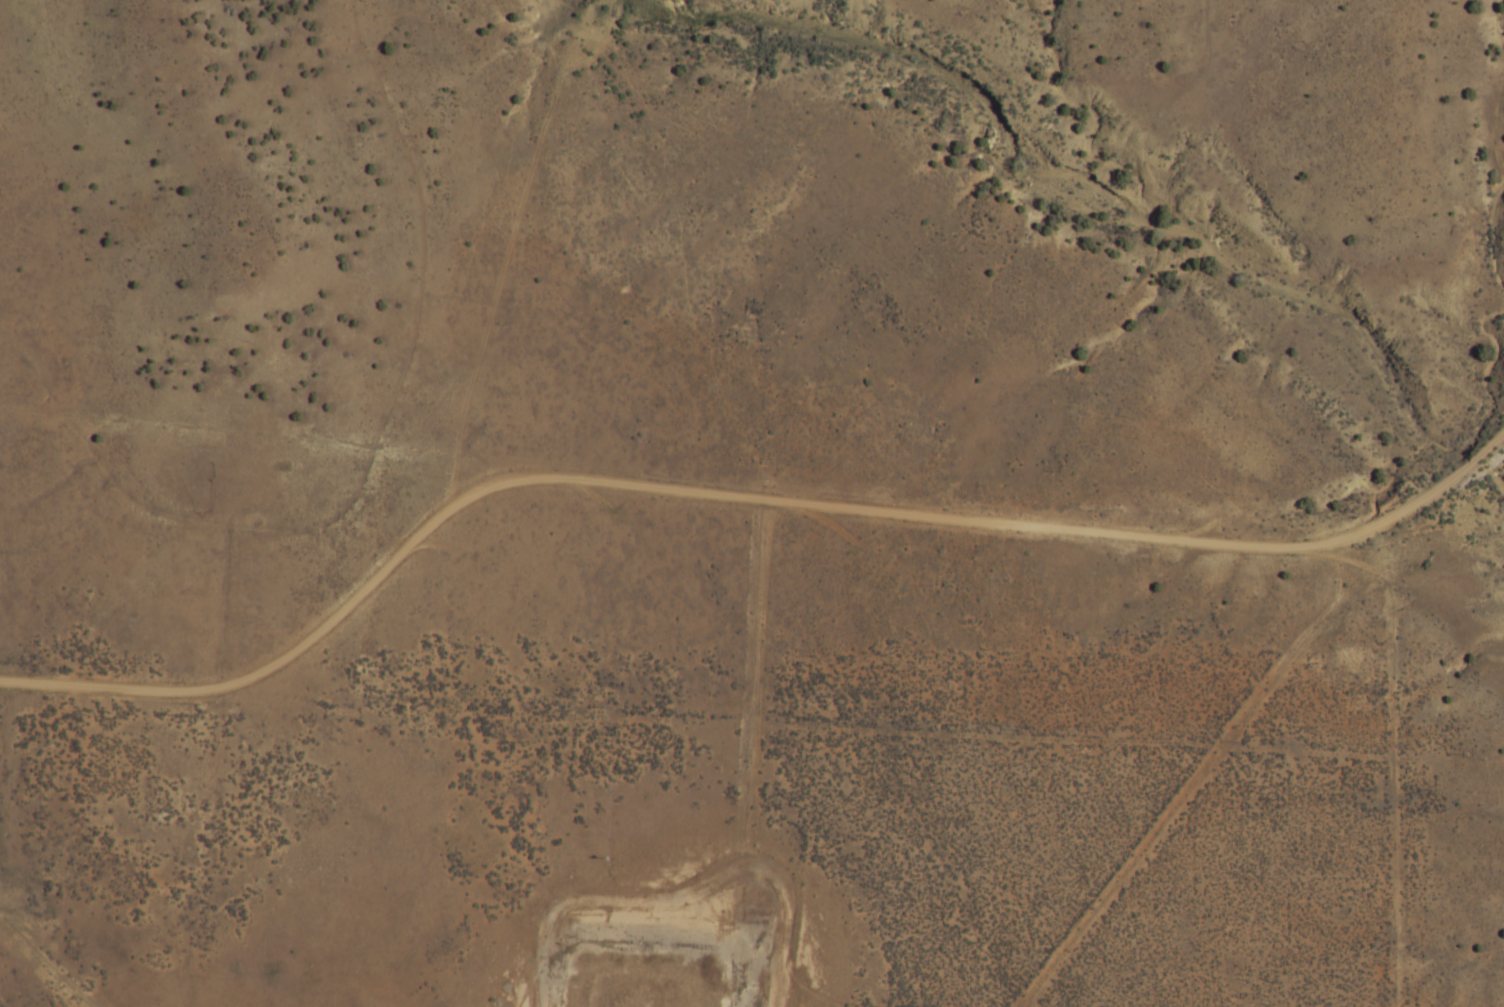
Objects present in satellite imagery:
road: (753, 707)

